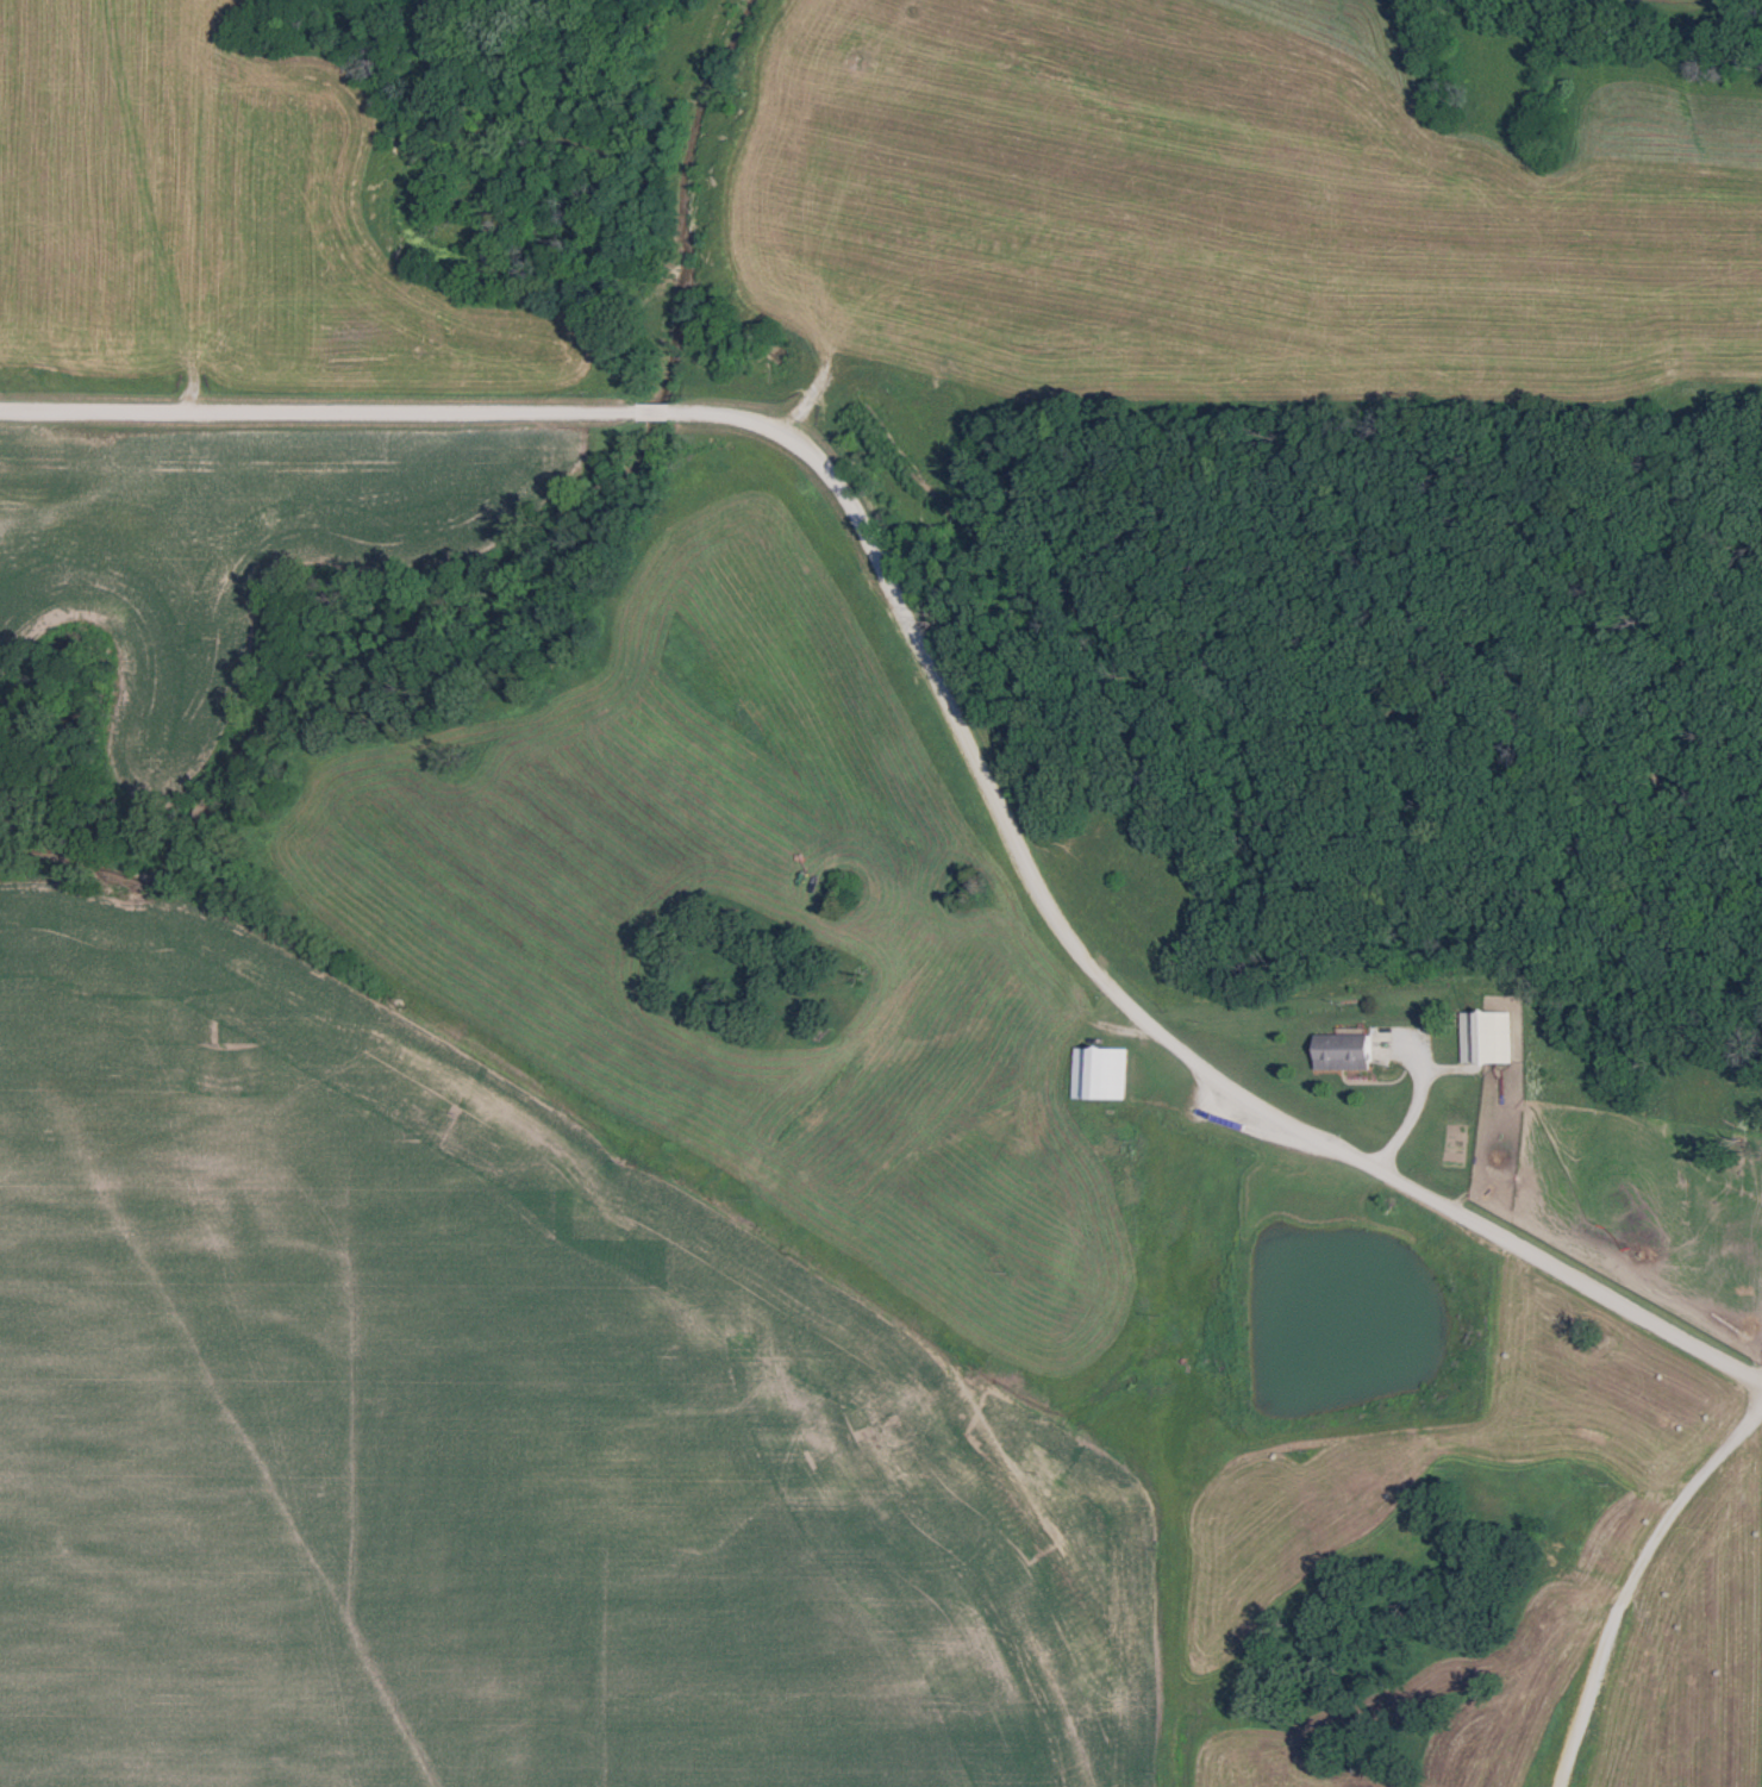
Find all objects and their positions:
road: (948, 691)
building: (1485, 1036)
building: (1338, 1051)
building: (1095, 1067)
road: (1635, 1585)

